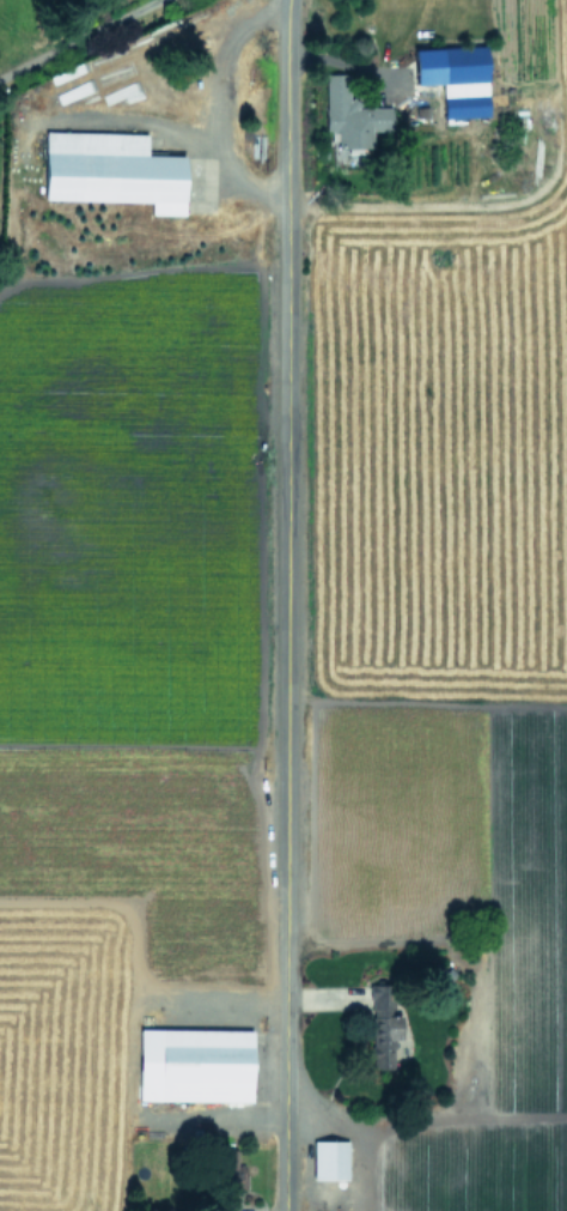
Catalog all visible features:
road: (77, 40)
building: (455, 78)
road: (215, 105)
building: (349, 114)
road: (133, 119)
building: (110, 169)
road: (285, 605)
crop: (465, 720)
crop: (103, 744)
building: (382, 1024)
building: (194, 1064)
building: (329, 1159)
building: (231, 1170)

